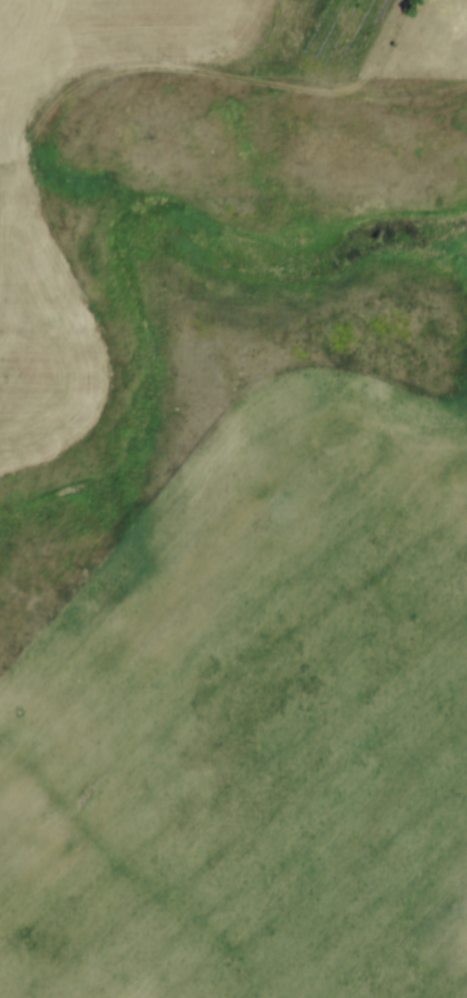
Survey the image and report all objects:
road: (211, 80)

